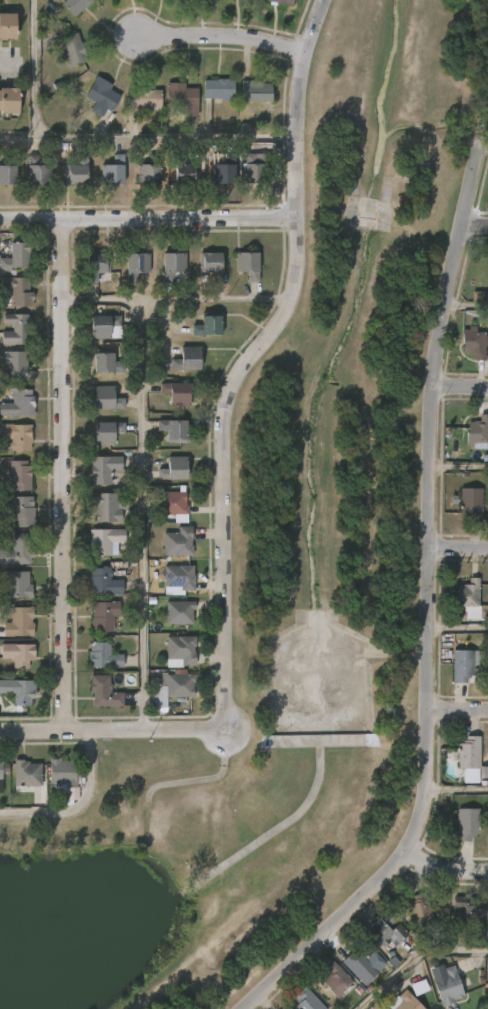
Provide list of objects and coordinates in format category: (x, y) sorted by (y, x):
building: (282, 2)
building: (76, 6)
building: (8, 25)
road: (221, 37)
building: (73, 50)
road: (7, 63)
building: (219, 88)
building: (256, 90)
building: (101, 95)
building: (145, 97)
building: (182, 97)
building: (9, 101)
building: (244, 128)
road: (18, 136)
road: (98, 137)
road: (486, 146)
building: (8, 169)
building: (224, 169)
building: (254, 169)
building: (37, 170)
building: (76, 170)
building: (113, 170)
building: (149, 170)
building: (185, 170)
road: (146, 219)
road: (477, 223)
building: (17, 257)
building: (136, 264)
building: (172, 264)
building: (212, 264)
building: (248, 264)
building: (96, 265)
building: (20, 290)
road: (174, 299)
road: (469, 308)
building: (103, 325)
building: (208, 326)
building: (17, 329)
building: (471, 342)
building: (187, 358)
road: (243, 360)
building: (106, 361)
building: (15, 365)
road: (463, 385)
building: (176, 393)
building: (106, 398)
building: (18, 403)
building: (174, 430)
building: (475, 430)
building: (107, 432)
building: (16, 435)
road: (461, 467)
building: (103, 468)
building: (174, 468)
building: (19, 475)
road: (63, 477)
building: (469, 502)
building: (172, 503)
building: (107, 506)
building: (19, 510)
road: (140, 514)
building: (106, 540)
building: (178, 542)
building: (19, 550)
road: (460, 550)
building: (179, 577)
building: (104, 582)
building: (17, 584)
building: (467, 598)
road: (432, 612)
building: (179, 613)
building: (104, 616)
building: (19, 622)
road: (460, 629)
park: (272, 638)
building: (181, 649)
building: (18, 654)
building: (103, 657)
building: (463, 665)
building: (174, 683)
building: (19, 692)
building: (106, 692)
road: (460, 709)
road: (103, 730)
building: (469, 758)
building: (3, 767)
building: (62, 772)
building: (26, 773)
building: (0, 778)
road: (458, 791)
building: (72, 793)
road: (76, 805)
building: (467, 824)
road: (445, 863)
building: (467, 907)
building: (419, 908)
building: (486, 911)
building: (386, 929)
road: (412, 957)
building: (359, 968)
building: (336, 979)
building: (445, 986)
building: (486, 986)
building: (307, 1000)
building: (406, 1001)

